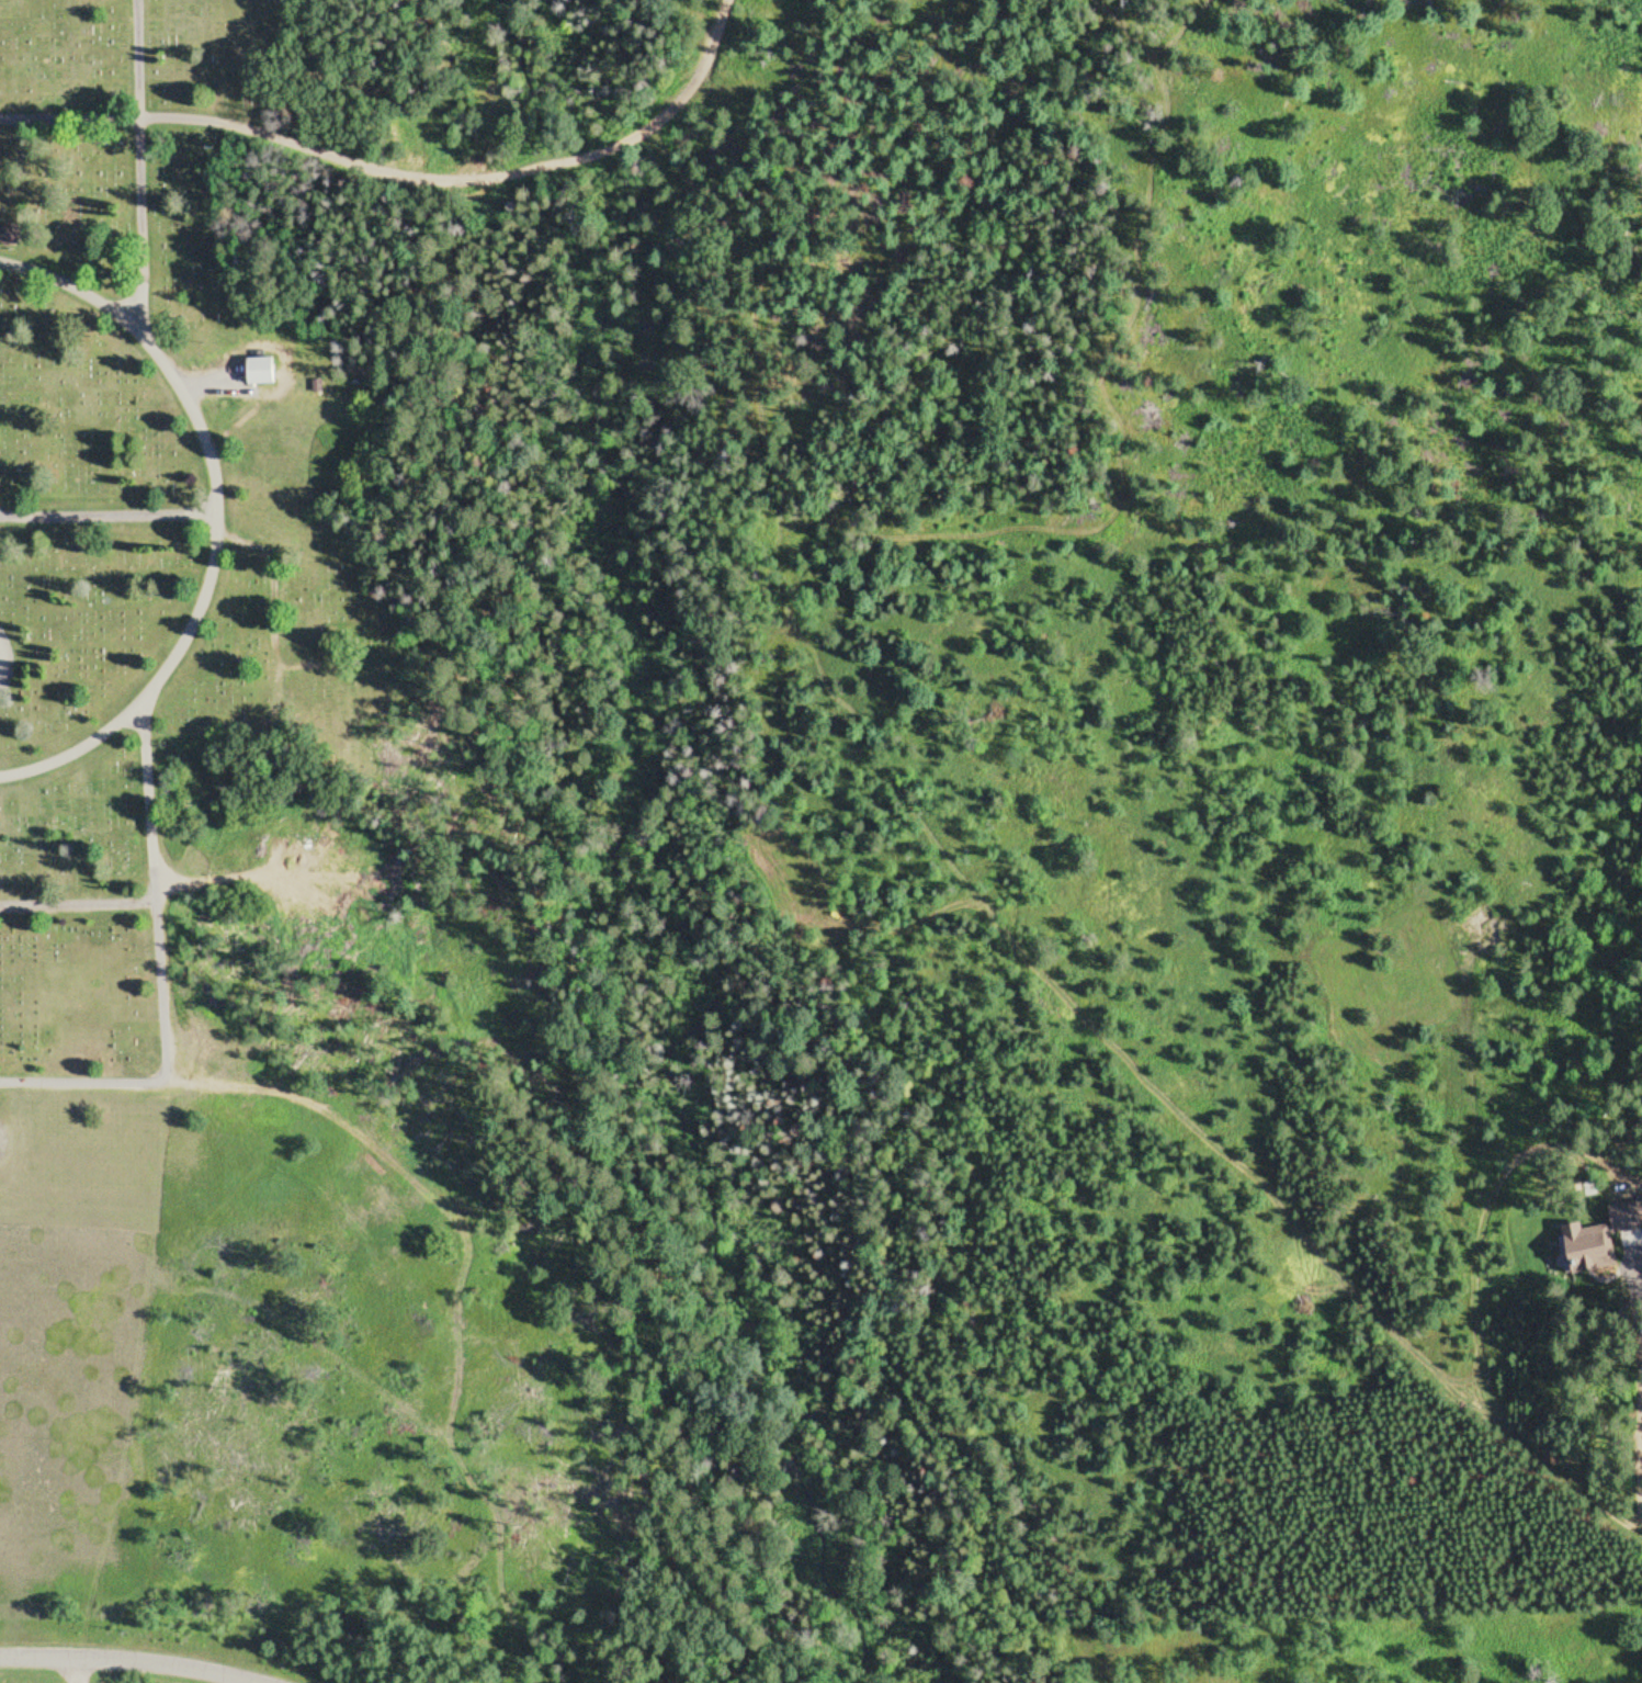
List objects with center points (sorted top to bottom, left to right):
road: (134, 161)
road: (401, 180)
building: (9, 237)
building: (262, 373)
road: (109, 517)
road: (217, 518)
road: (2, 664)
park: (346, 752)
road: (79, 900)
road: (163, 975)
road: (125, 1664)
road: (79, 1672)

